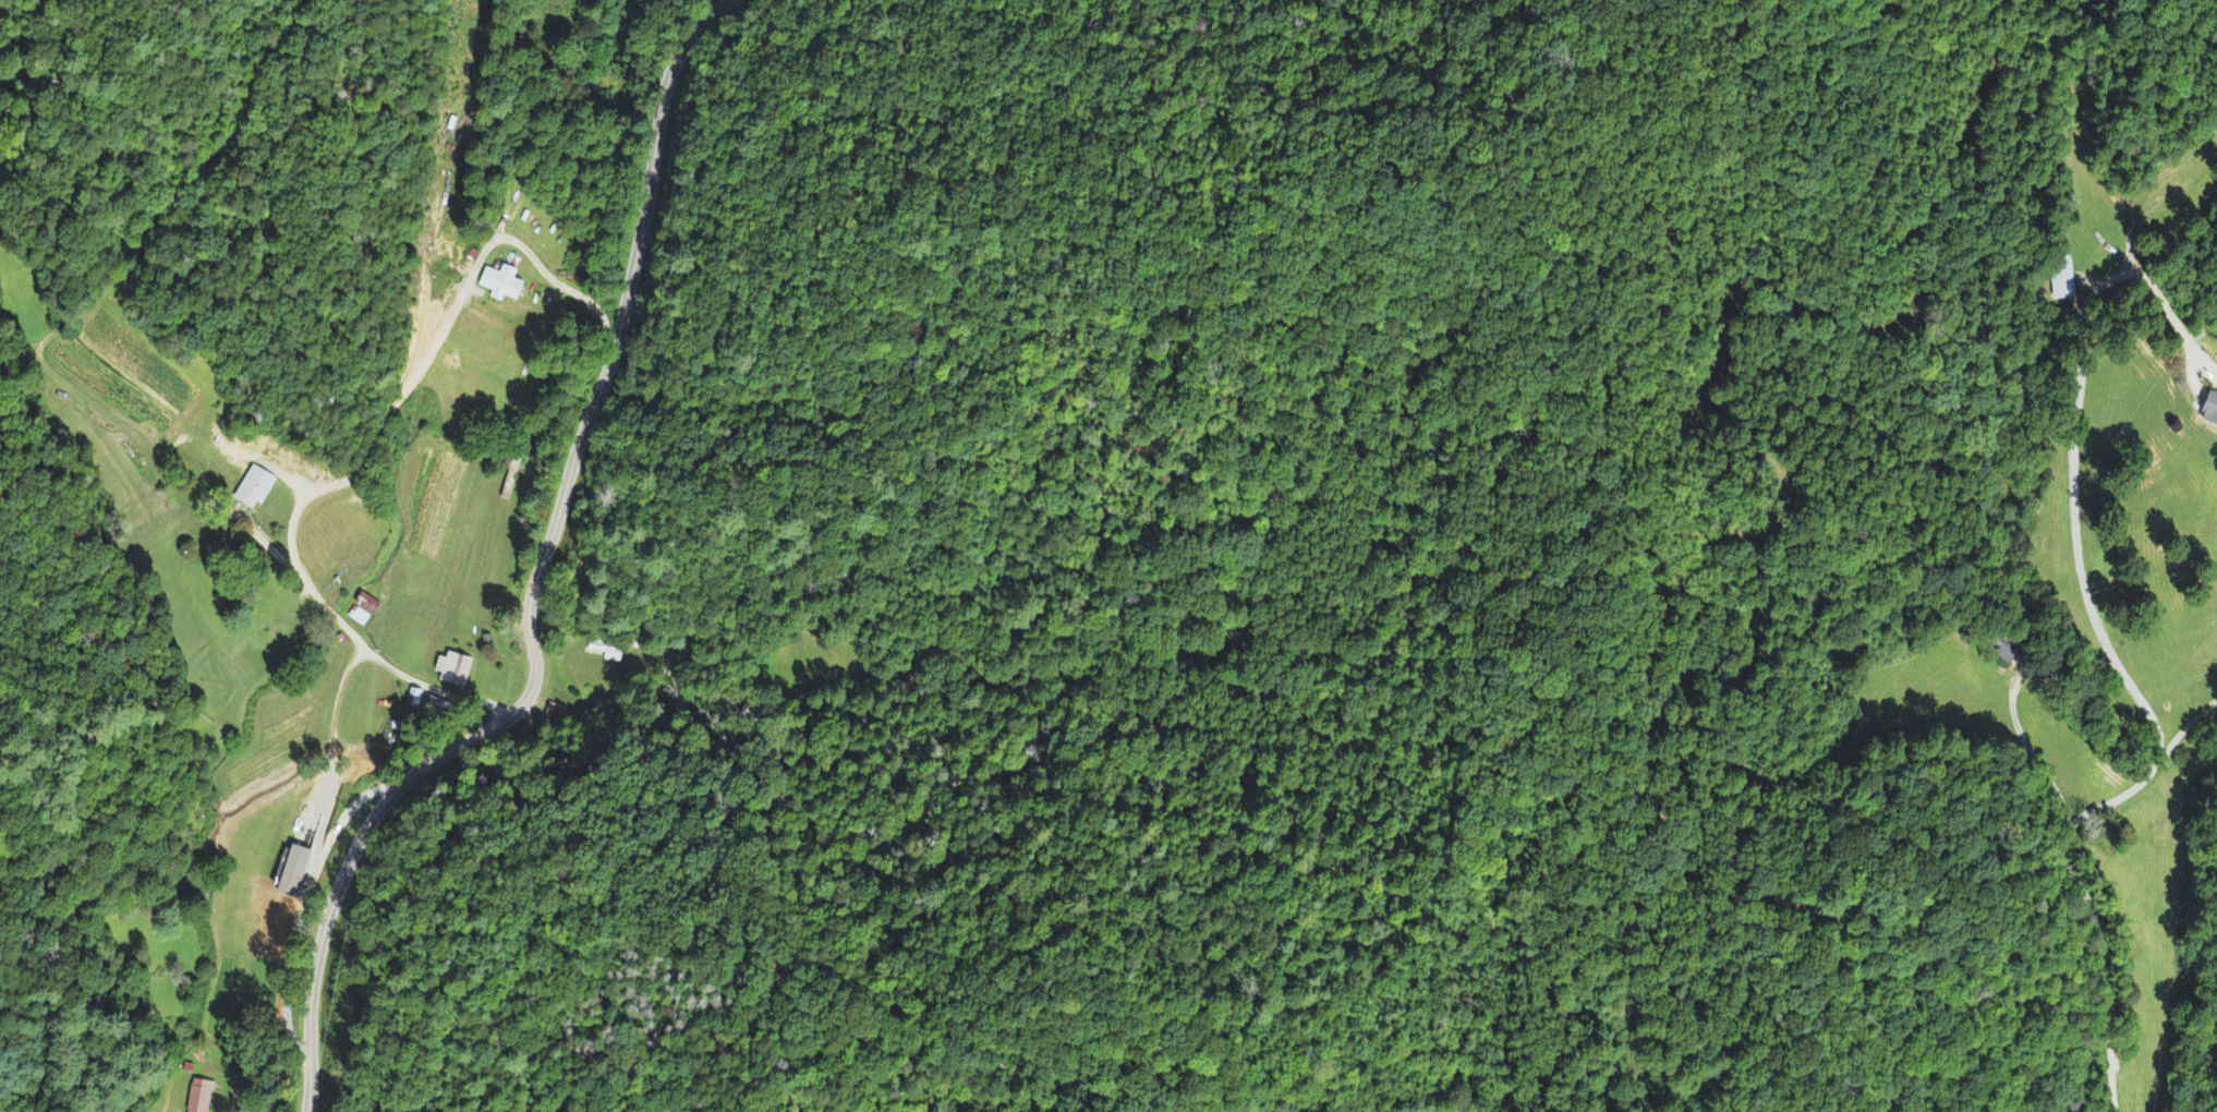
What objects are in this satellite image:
building: (504, 286)
road: (458, 295)
building: (2212, 413)
building: (256, 491)
road: (536, 578)
building: (368, 606)
building: (360, 619)
road: (359, 644)
building: (455, 670)
building: (295, 874)
road: (2092, 910)
building: (201, 1098)

